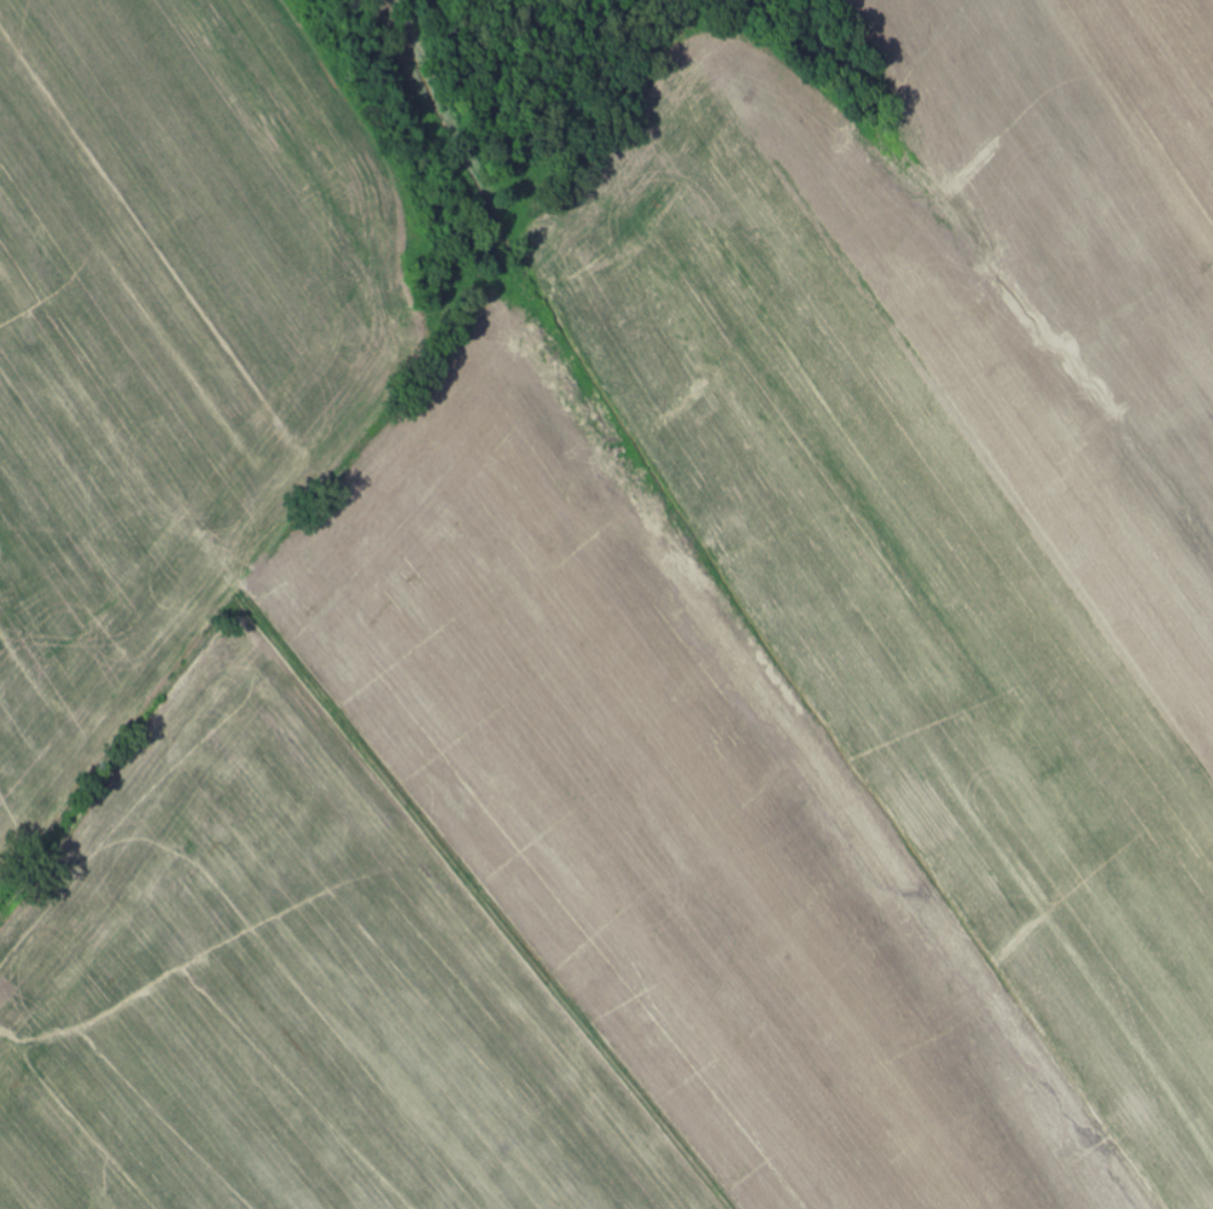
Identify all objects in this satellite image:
road: (377, 283)
road: (123, 765)
road: (451, 897)

